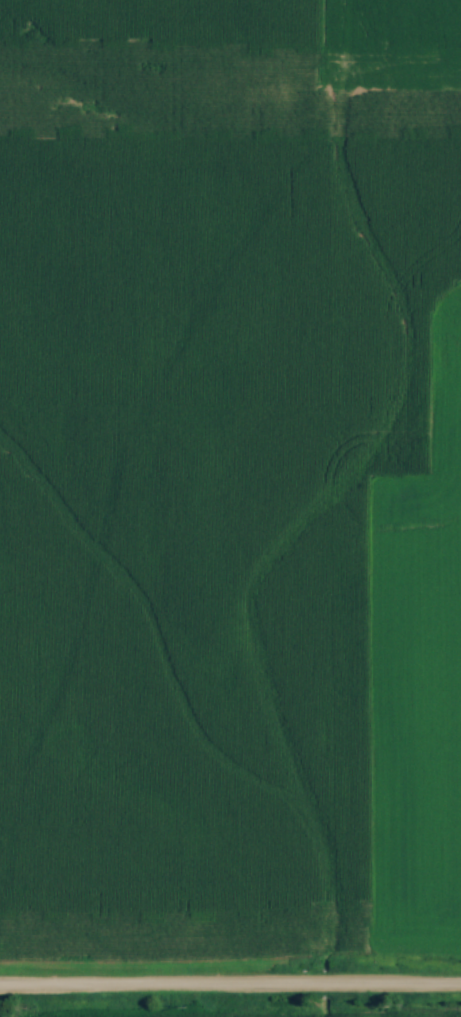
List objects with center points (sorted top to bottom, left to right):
road: (230, 992)

